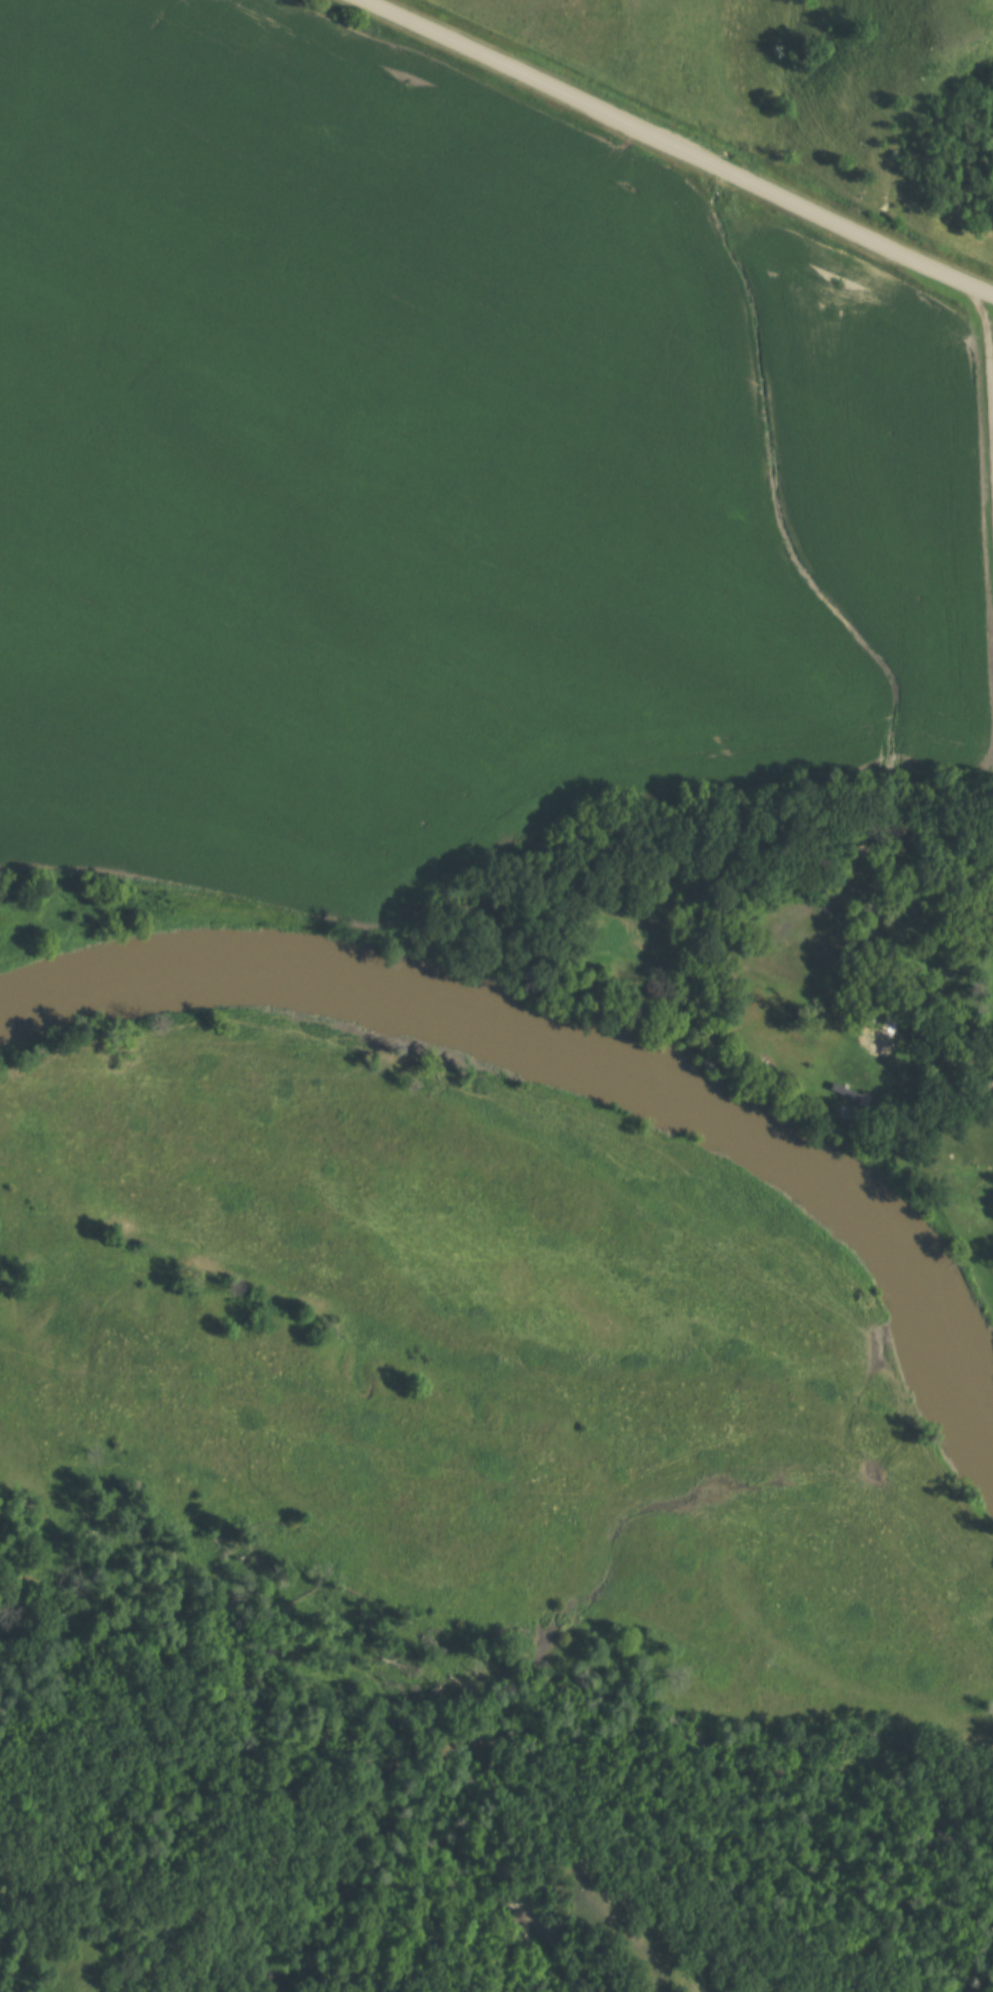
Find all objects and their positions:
road: (679, 148)
building: (889, 1036)
river: (587, 1053)
building: (846, 1071)

